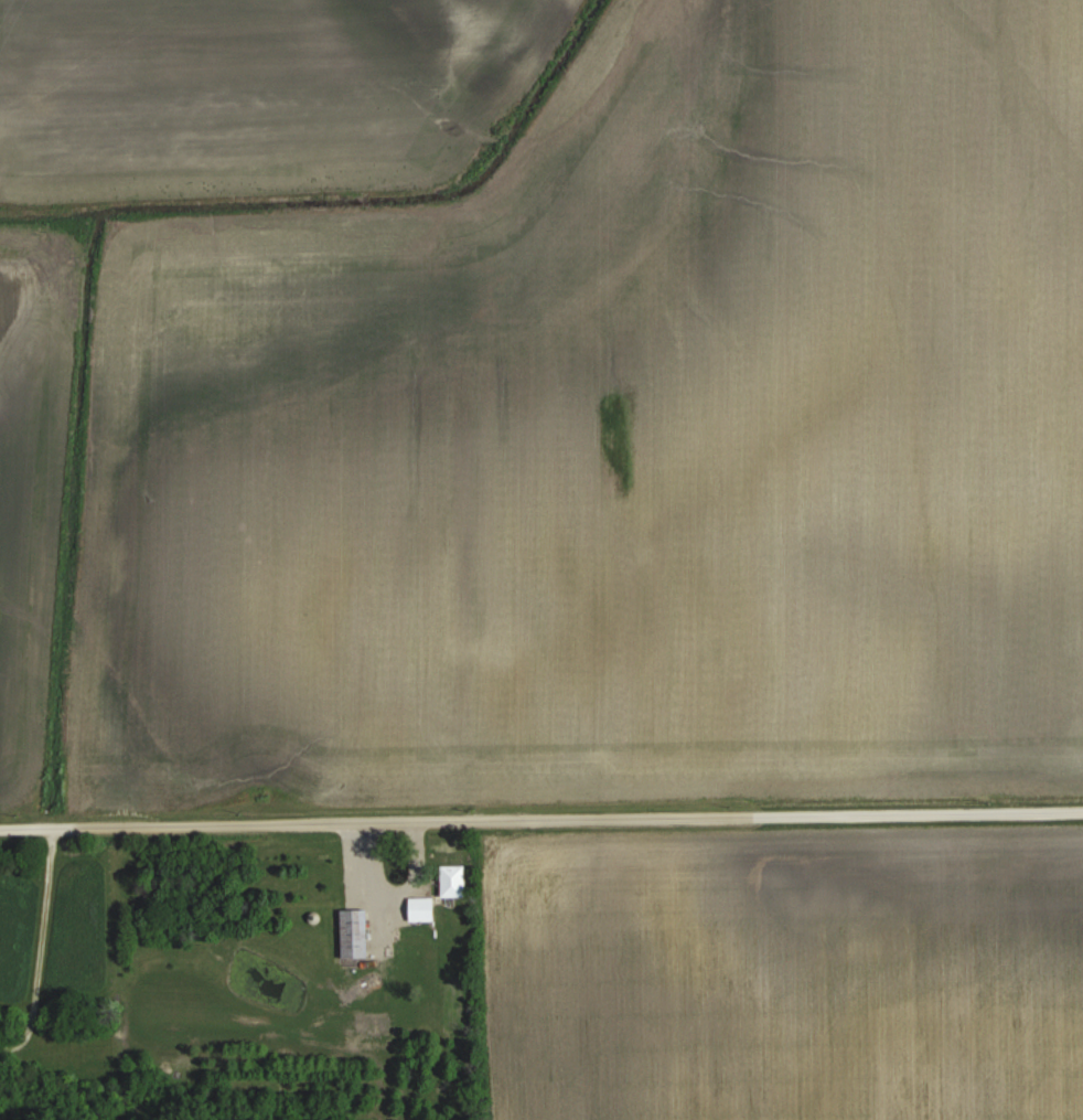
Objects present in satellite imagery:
road: (540, 818)
building: (454, 881)
building: (422, 908)
building: (355, 932)
road: (42, 947)

